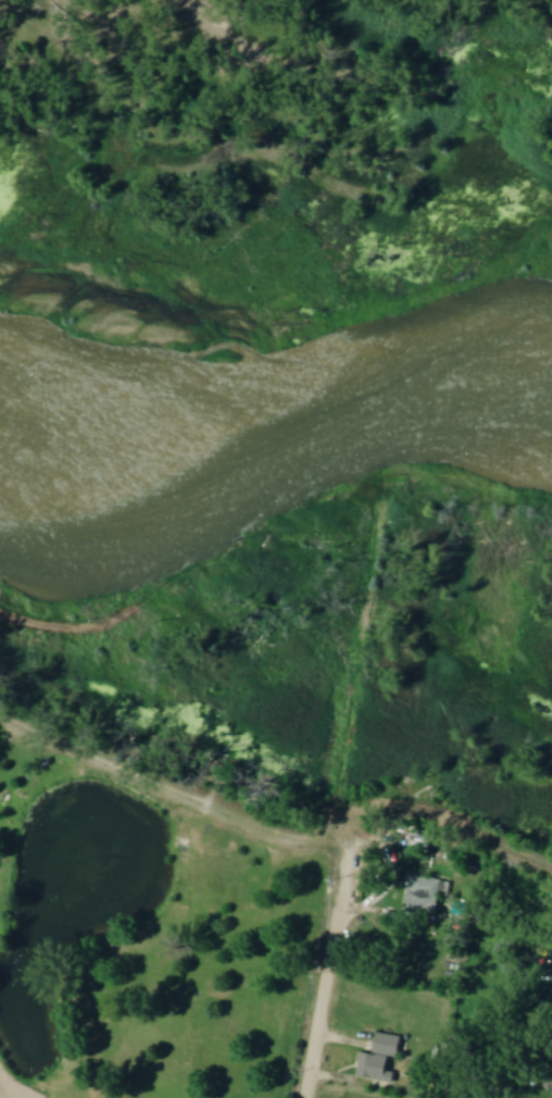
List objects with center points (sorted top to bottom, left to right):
river: (275, 410)
road: (364, 629)
building: (422, 895)
park: (146, 929)
road: (329, 964)
building: (379, 1060)

